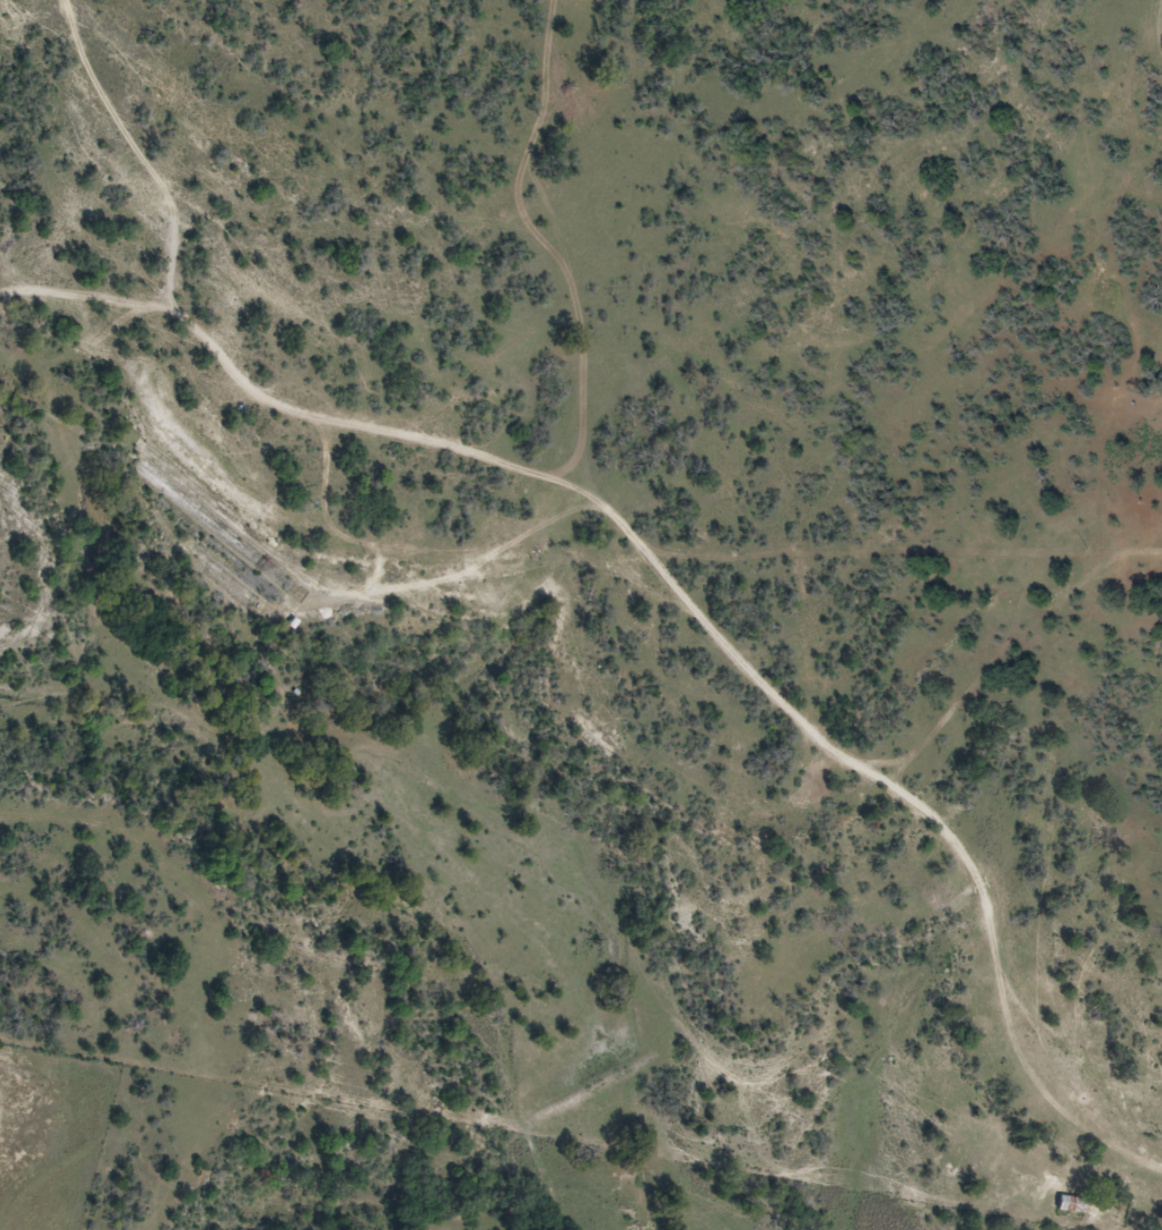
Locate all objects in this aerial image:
building: (1073, 1204)

